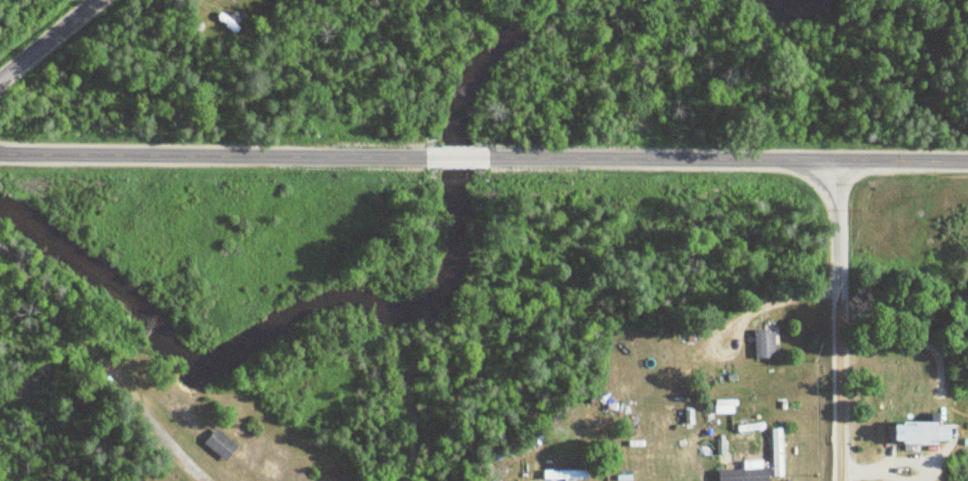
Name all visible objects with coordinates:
river: (796, 2)
road: (48, 40)
road: (215, 153)
road: (456, 157)
road: (724, 161)
road: (838, 231)
park: (175, 289)
river: (350, 293)
road: (771, 300)
building: (766, 343)
road: (103, 365)
road: (839, 390)
building: (921, 433)
building: (222, 444)
building: (567, 475)

